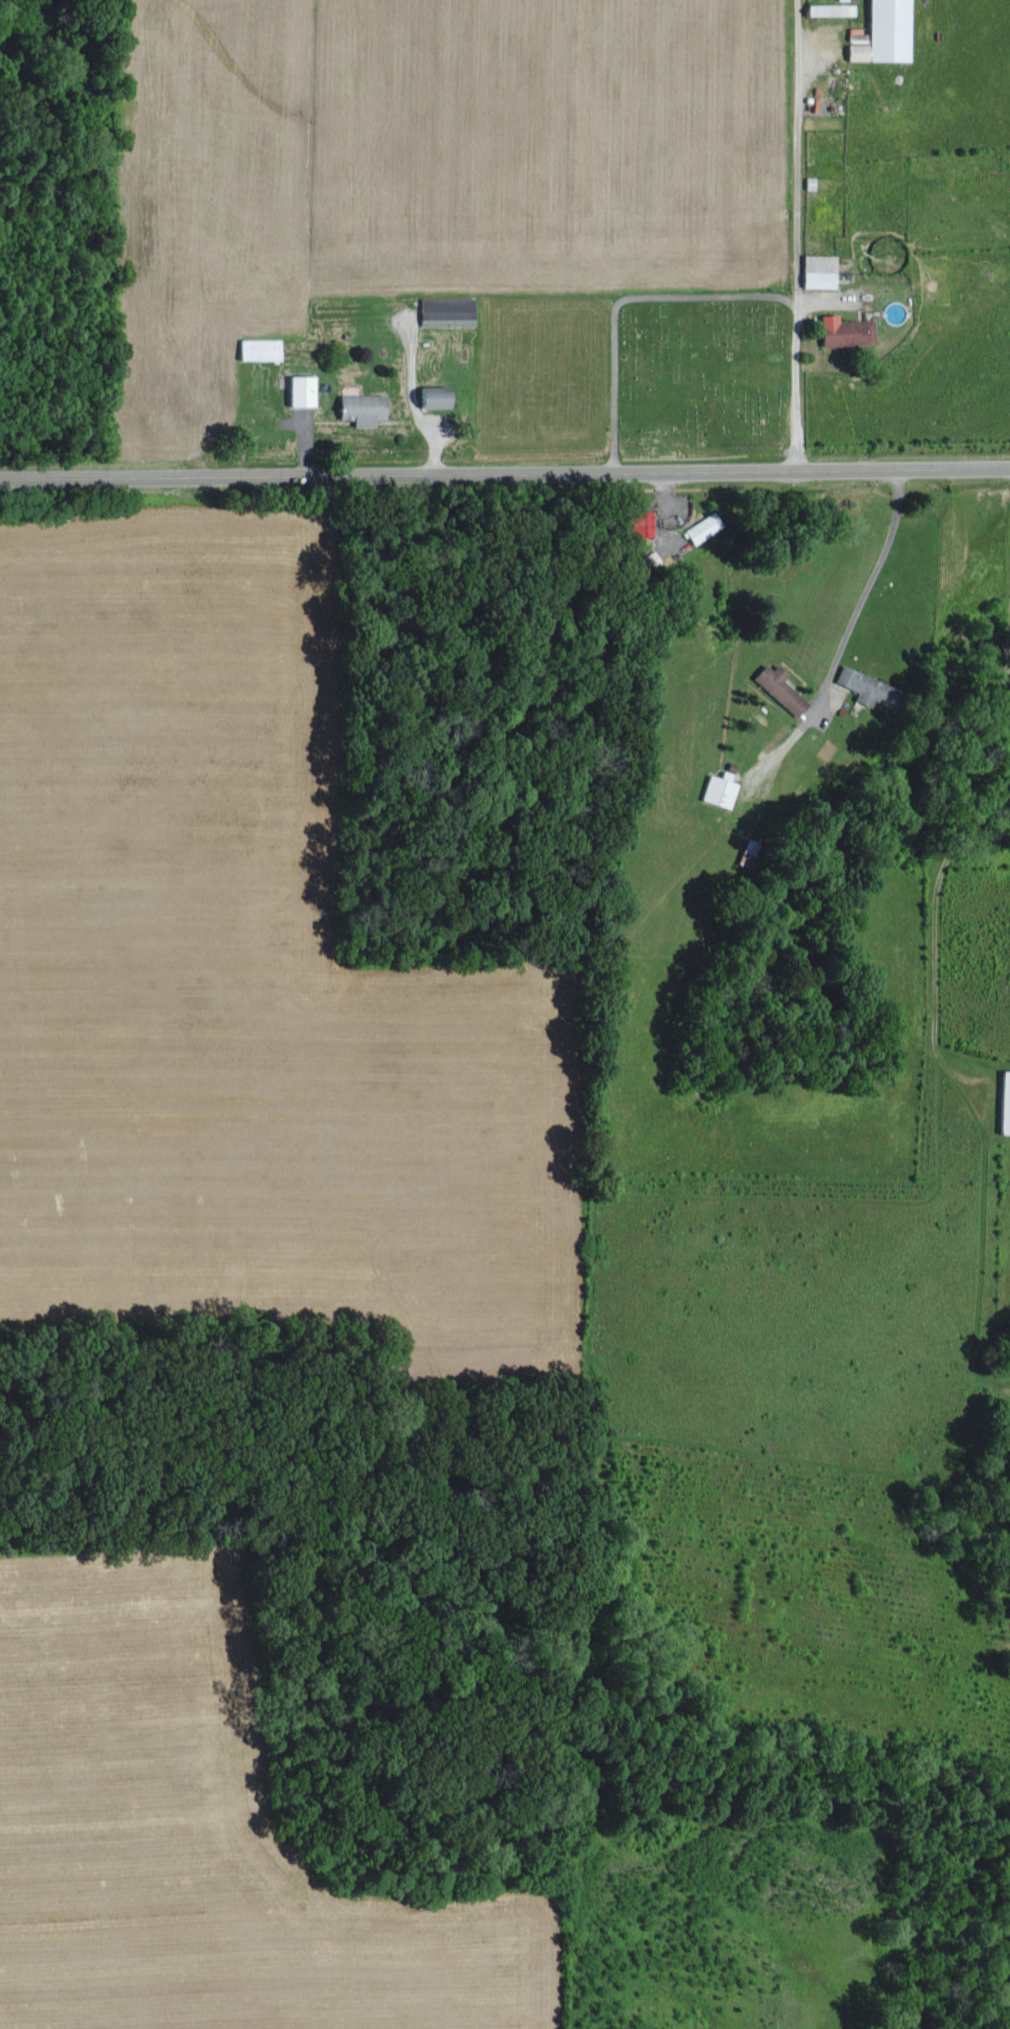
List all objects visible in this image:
building: (827, 7)
building: (878, 32)
building: (814, 269)
building: (443, 310)
building: (843, 331)
building: (257, 347)
park: (701, 374)
building: (298, 388)
building: (430, 394)
building: (357, 406)
road: (505, 473)
building: (637, 522)
building: (701, 526)
road: (862, 590)
building: (862, 685)
building: (777, 687)
building: (716, 788)
building: (1002, 1101)

